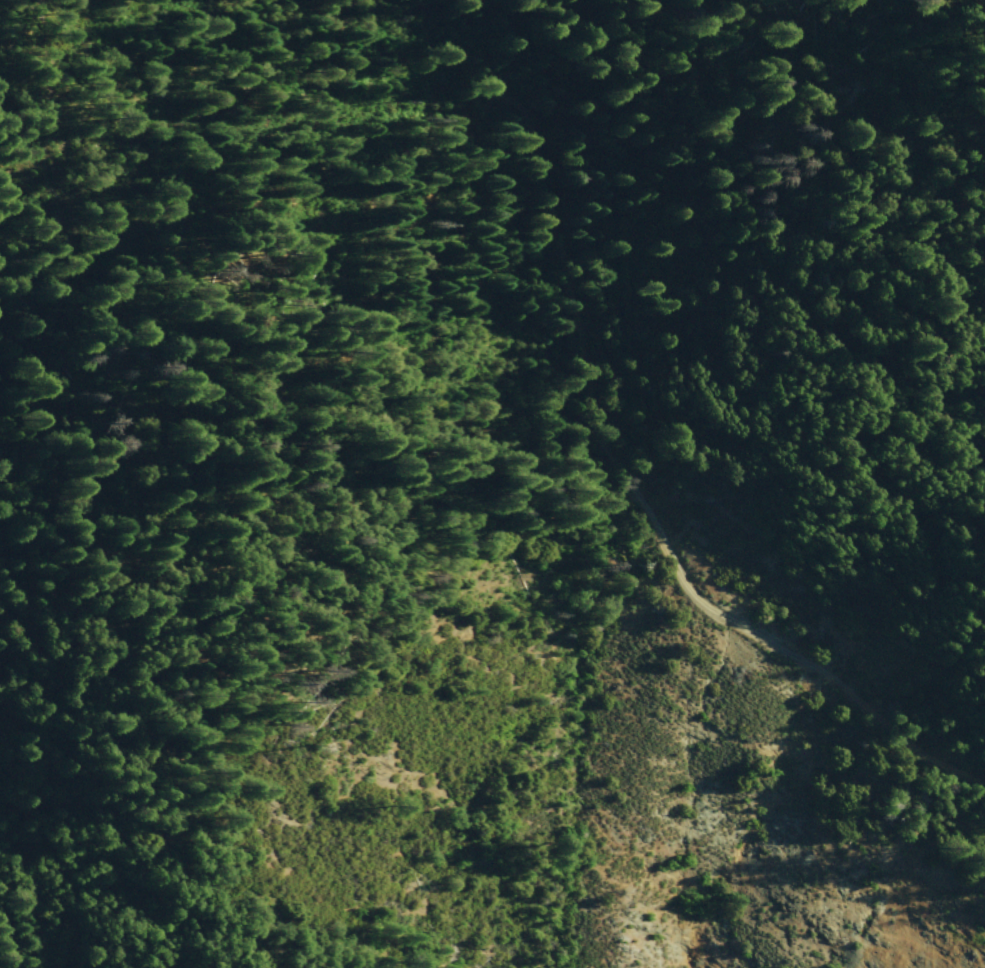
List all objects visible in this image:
road: (478, 113)

